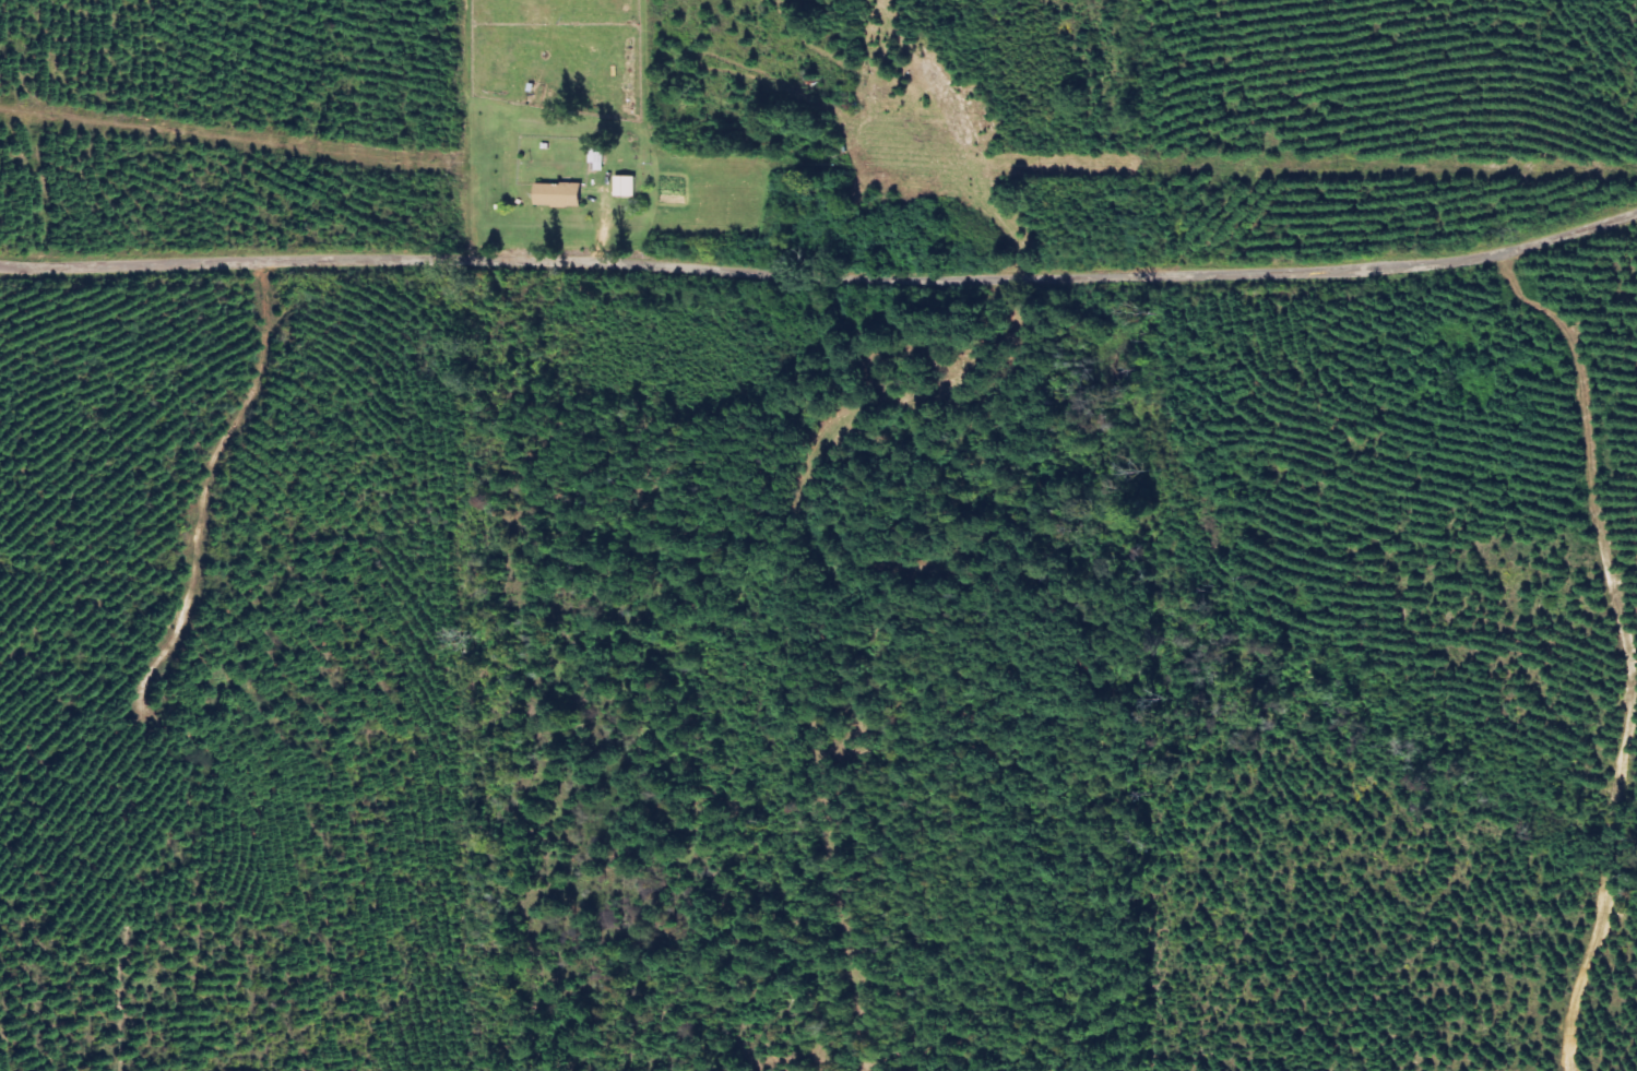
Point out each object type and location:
building: (561, 197)
road: (821, 272)

